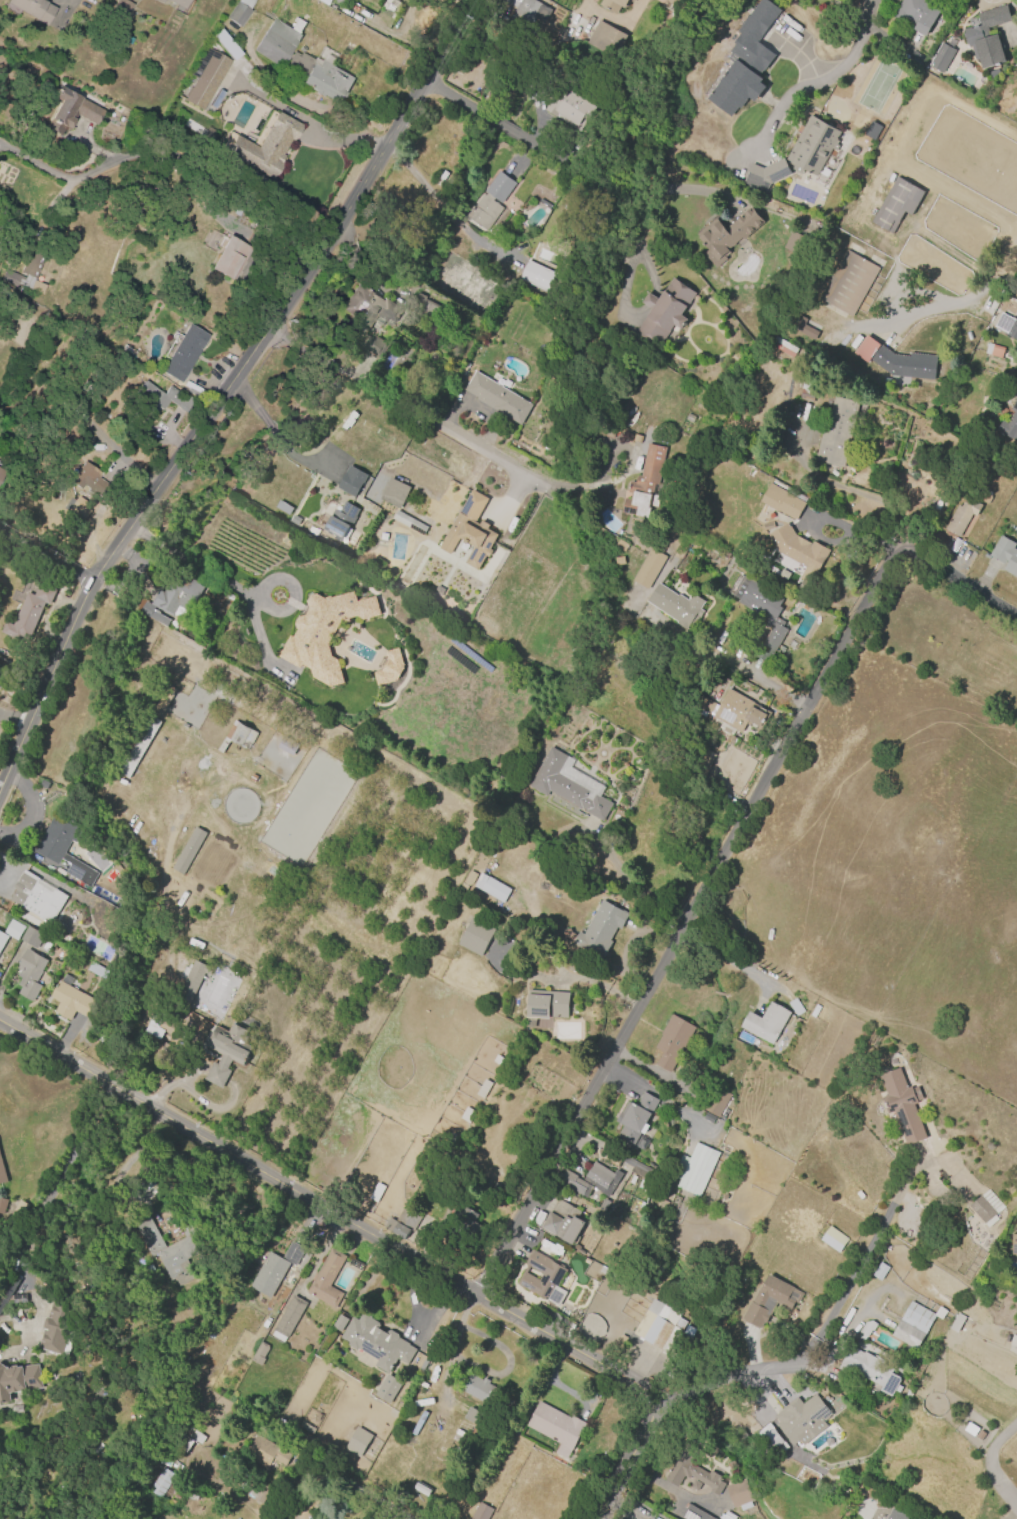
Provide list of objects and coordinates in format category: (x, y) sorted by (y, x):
building: (159, 0)
building: (930, 0)
building: (339, 1)
building: (324, 2)
road: (467, 2)
building: (675, 2)
building: (179, 3)
building: (615, 5)
building: (390, 7)
building: (34, 8)
building: (119, 10)
building: (239, 11)
road: (870, 12)
building: (533, 13)
building: (917, 14)
road: (617, 18)
building: (986, 37)
building: (606, 39)
building: (278, 41)
building: (941, 57)
building: (745, 61)
building: (318, 76)
building: (204, 77)
road: (808, 88)
building: (570, 107)
building: (70, 111)
road: (503, 129)
building: (262, 148)
building: (812, 148)
road: (163, 152)
building: (766, 174)
road: (643, 195)
building: (490, 201)
building: (895, 204)
road: (442, 206)
building: (727, 236)
road: (639, 241)
building: (796, 243)
building: (229, 257)
building: (27, 271)
building: (537, 276)
building: (849, 283)
road: (952, 304)
building: (425, 308)
building: (664, 311)
building: (369, 317)
building: (1007, 326)
building: (804, 329)
building: (993, 351)
building: (184, 353)
building: (897, 362)
road: (220, 381)
building: (1016, 396)
building: (161, 397)
building: (497, 398)
road: (400, 405)
building: (1010, 423)
building: (837, 432)
road: (273, 433)
building: (636, 438)
building: (1, 472)
building: (88, 480)
building: (351, 481)
road: (594, 484)
building: (646, 484)
road: (850, 490)
building: (394, 493)
building: (783, 501)
building: (961, 516)
building: (340, 521)
building: (409, 523)
building: (767, 526)
road: (134, 530)
building: (470, 531)
road: (157, 543)
building: (620, 545)
building: (694, 547)
building: (798, 549)
building: (1005, 555)
road: (40, 561)
building: (619, 561)
building: (648, 568)
building: (178, 595)
road: (258, 595)
building: (675, 605)
building: (761, 613)
building: (28, 614)
building: (153, 614)
building: (323, 633)
road: (726, 661)
building: (389, 668)
building: (165, 698)
building: (739, 712)
building: (237, 736)
building: (138, 746)
building: (568, 785)
building: (63, 848)
building: (188, 850)
road: (717, 862)
road: (630, 884)
building: (491, 888)
building: (179, 896)
building: (36, 897)
building: (598, 929)
building: (13, 930)
building: (32, 937)
building: (475, 937)
building: (2, 939)
building: (65, 939)
road: (720, 962)
building: (98, 971)
building: (29, 973)
building: (192, 981)
building: (70, 1000)
building: (545, 1005)
building: (795, 1007)
building: (162, 1022)
building: (765, 1022)
building: (672, 1043)
building: (227, 1051)
road: (660, 1099)
building: (716, 1101)
building: (902, 1105)
building: (635, 1120)
building: (695, 1168)
building: (639, 1169)
road: (117, 1173)
building: (2, 1174)
building: (589, 1180)
road: (54, 1184)
building: (2, 1205)
building: (982, 1211)
building: (468, 1220)
building: (402, 1223)
building: (563, 1227)
building: (833, 1239)
building: (1014, 1244)
road: (391, 1249)
building: (577, 1249)
building: (172, 1252)
building: (274, 1269)
road: (855, 1276)
building: (542, 1278)
building: (325, 1280)
building: (770, 1301)
building: (287, 1318)
building: (956, 1322)
building: (339, 1323)
building: (661, 1323)
building: (56, 1324)
building: (912, 1325)
building: (866, 1329)
building: (376, 1343)
building: (259, 1353)
building: (870, 1370)
road: (746, 1374)
building: (18, 1380)
building: (387, 1389)
building: (478, 1389)
building: (908, 1393)
building: (17, 1411)
building: (475, 1419)
building: (801, 1419)
building: (555, 1428)
building: (357, 1442)
building: (264, 1452)
road: (993, 1468)
building: (692, 1472)
building: (160, 1482)
road: (352, 1487)
building: (259, 1493)
building: (739, 1493)
building: (481, 1512)
building: (694, 1513)
building: (896, 1514)

